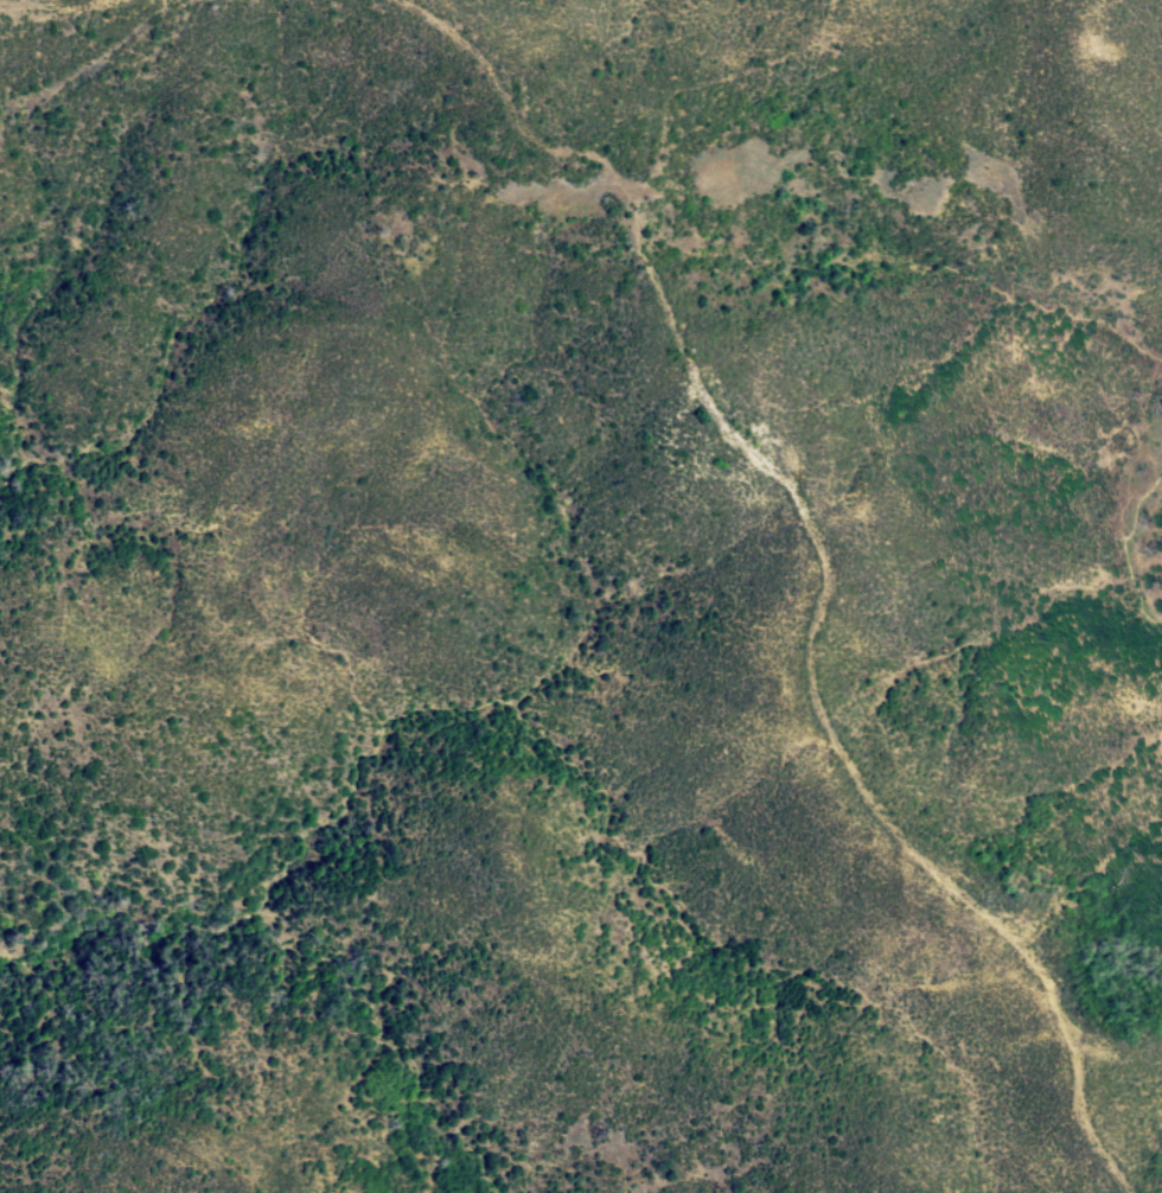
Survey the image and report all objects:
road: (59, 6)
road: (822, 559)

